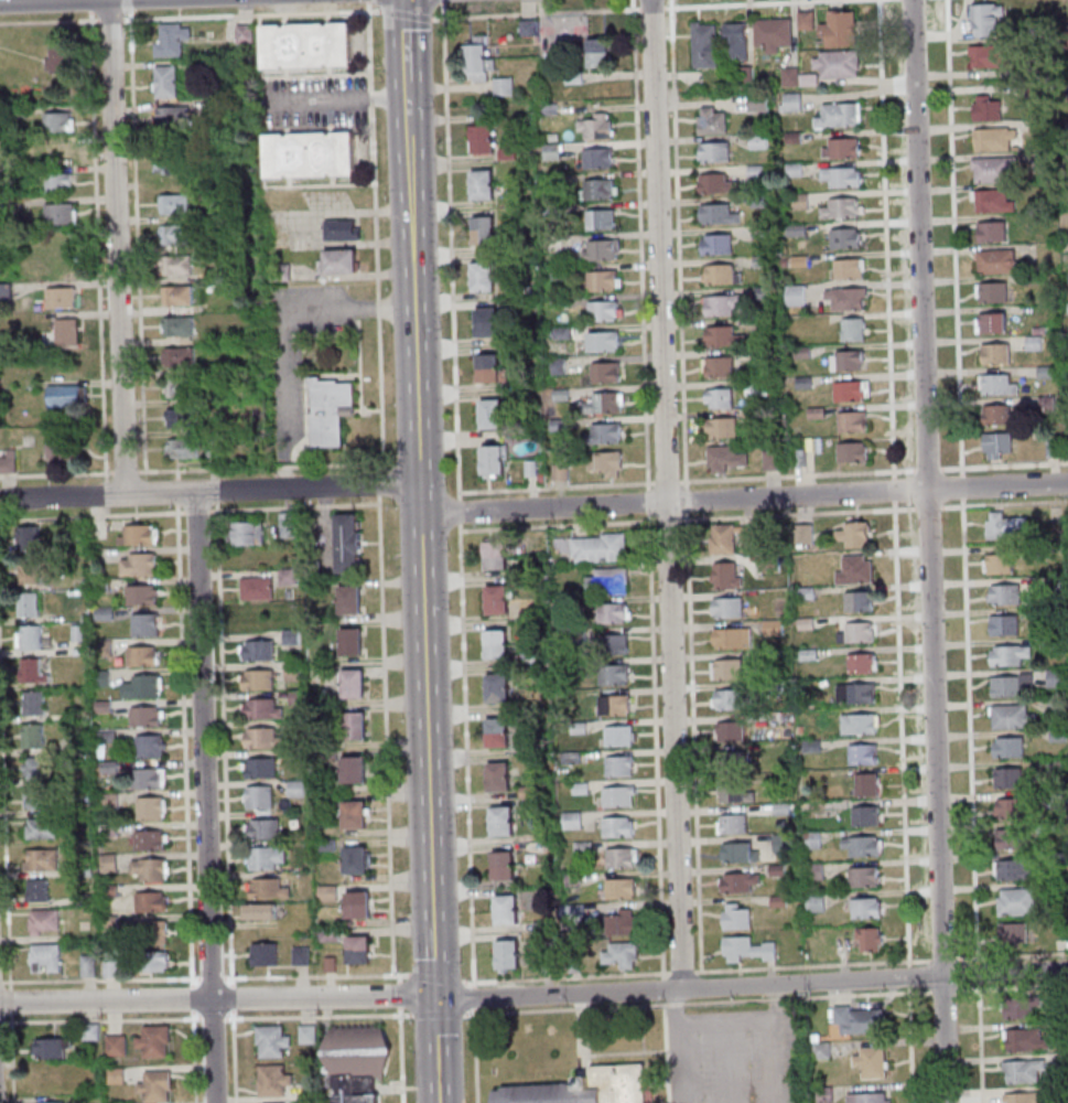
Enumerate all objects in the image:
road: (368, 0)
road: (45, 1)
road: (442, 1)
road: (744, 3)
road: (129, 4)
road: (90, 6)
road: (651, 7)
road: (538, 13)
road: (251, 14)
road: (408, 14)
building: (985, 19)
road: (61, 20)
building: (805, 20)
building: (529, 28)
building: (840, 28)
building: (244, 34)
building: (774, 34)
building: (170, 41)
building: (735, 41)
building: (704, 44)
building: (327, 45)
building: (283, 46)
road: (406, 53)
building: (598, 53)
building: (988, 55)
building: (477, 60)
building: (58, 61)
building: (837, 64)
building: (201, 67)
building: (164, 82)
building: (504, 86)
road: (334, 98)
parking lot: (312, 101)
building: (790, 101)
building: (757, 103)
building: (988, 107)
building: (217, 109)
building: (18, 113)
building: (840, 115)
building: (170, 117)
building: (711, 119)
building: (57, 122)
building: (595, 126)
building: (483, 138)
building: (995, 139)
building: (17, 144)
building: (841, 148)
building: (56, 151)
building: (552, 151)
building: (714, 151)
building: (331, 153)
building: (287, 156)
building: (597, 158)
building: (994, 170)
building: (841, 176)
building: (0, 180)
building: (57, 183)
building: (715, 183)
building: (484, 185)
building: (601, 189)
building: (992, 201)
building: (173, 204)
building: (0, 207)
building: (843, 207)
building: (58, 214)
building: (718, 214)
parking lot: (306, 218)
building: (601, 218)
road: (294, 229)
building: (484, 229)
building: (339, 231)
building: (991, 231)
building: (174, 234)
road: (375, 235)
road: (953, 236)
building: (845, 237)
road: (886, 238)
road: (137, 240)
road: (678, 244)
building: (716, 244)
road: (639, 245)
road: (97, 246)
road: (116, 247)
building: (602, 249)
road: (449, 250)
building: (999, 261)
building: (339, 263)
building: (175, 265)
building: (850, 268)
building: (278, 272)
building: (721, 274)
building: (484, 276)
building: (602, 280)
building: (4, 292)
building: (992, 292)
building: (176, 296)
building: (796, 296)
building: (60, 298)
building: (846, 299)
building: (722, 306)
road: (289, 309)
building: (602, 311)
building: (486, 322)
building: (991, 322)
building: (177, 326)
building: (853, 329)
building: (60, 333)
building: (723, 335)
building: (603, 341)
building: (996, 353)
building: (179, 357)
building: (848, 360)
building: (719, 366)
building: (490, 367)
building: (605, 372)
building: (997, 385)
building: (179, 387)
building: (852, 390)
building: (63, 396)
building: (719, 397)
building: (608, 401)
building: (327, 411)
building: (492, 414)
building: (996, 415)
building: (180, 418)
building: (853, 420)
building: (723, 427)
building: (607, 431)
building: (997, 445)
building: (181, 449)
building: (212, 449)
building: (853, 452)
building: (62, 454)
road: (282, 458)
building: (726, 458)
building: (772, 460)
building: (494, 461)
building: (606, 462)
building: (7, 463)
road: (1004, 464)
road: (259, 465)
road: (927, 468)
road: (125, 471)
building: (561, 472)
road: (55, 473)
road: (850, 473)
road: (176, 475)
road: (732, 479)
road: (667, 481)
road: (379, 482)
road: (555, 486)
road: (961, 486)
road: (894, 490)
road: (177, 492)
road: (209, 492)
road: (104, 494)
road: (665, 494)
road: (216, 497)
road: (743, 497)
road: (686, 499)
road: (648, 502)
road: (293, 506)
road: (873, 510)
road: (197, 511)
road: (459, 511)
road: (105, 512)
road: (91, 516)
road: (668, 520)
building: (287, 525)
road: (558, 525)
building: (1004, 527)
building: (247, 534)
building: (806, 534)
building: (854, 534)
building: (136, 536)
building: (26, 538)
building: (724, 538)
building: (346, 544)
building: (600, 547)
road: (928, 550)
building: (497, 555)
building: (1000, 564)
building: (137, 566)
building: (311, 569)
building: (859, 569)
building: (28, 571)
building: (727, 575)
building: (287, 577)
building: (608, 580)
building: (101, 586)
building: (255, 589)
building: (1003, 595)
building: (140, 596)
building: (498, 599)
building: (348, 600)
building: (861, 602)
building: (26, 604)
road: (422, 604)
building: (727, 607)
building: (616, 612)
building: (101, 614)
building: (83, 619)
building: (1004, 624)
building: (143, 625)
building: (772, 629)
building: (859, 632)
building: (75, 633)
building: (290, 638)
building: (732, 638)
building: (28, 639)
building: (349, 643)
building: (497, 643)
building: (614, 643)
building: (100, 649)
building: (258, 651)
building: (76, 652)
building: (1010, 655)
building: (140, 656)
building: (862, 662)
building: (727, 668)
building: (30, 672)
building: (291, 672)
building: (615, 674)
building: (100, 678)
building: (1056, 678)
building: (257, 679)
building: (352, 685)
building: (1012, 685)
building: (140, 687)
building: (497, 687)
building: (861, 689)
building: (295, 697)
building: (727, 699)
building: (32, 704)
building: (614, 705)
building: (101, 707)
building: (260, 709)
building: (1013, 716)
building: (143, 717)
building: (354, 720)
building: (859, 724)
road: (970, 730)
building: (730, 731)
building: (499, 732)
road: (900, 732)
building: (354, 733)
road: (385, 735)
building: (621, 735)
building: (31, 737)
building: (104, 737)
road: (223, 739)
building: (261, 739)
road: (693, 740)
road: (185, 742)
building: (77, 743)
road: (656, 746)
building: (148, 747)
building: (1008, 747)
building: (863, 753)
road: (465, 754)
building: (733, 761)
building: (353, 764)
building: (619, 764)
building: (107, 767)
building: (35, 768)
building: (260, 769)
building: (499, 777)
building: (1008, 777)
building: (353, 778)
building: (149, 779)
building: (866, 784)
building: (295, 789)
building: (737, 791)
building: (618, 795)
road: (203, 796)
building: (258, 797)
building: (35, 799)
building: (328, 800)
building: (107, 801)
building: (1012, 807)
building: (149, 810)
building: (354, 810)
building: (866, 815)
building: (503, 821)
building: (354, 823)
building: (732, 823)
building: (618, 826)
building: (40, 828)
building: (262, 829)
building: (107, 831)
building: (1015, 838)
building: (148, 840)
road: (4, 843)
building: (781, 843)
building: (325, 845)
building: (862, 846)
building: (736, 852)
building: (355, 855)
building: (622, 857)
building: (263, 858)
building: (40, 861)
building: (107, 863)
building: (504, 865)
building: (355, 868)
building: (1014, 869)
building: (82, 870)
building: (149, 870)
building: (865, 876)
building: (738, 881)
building: (621, 888)
building: (267, 889)
building: (35, 890)
building: (107, 890)
building: (326, 895)
building: (357, 899)
building: (83, 900)
building: (1017, 901)
building: (149, 902)
building: (866, 908)
building: (508, 909)
building: (572, 910)
building: (257, 912)
building: (357, 912)
building: (736, 915)
building: (42, 921)
building: (623, 921)
building: (108, 922)
building: (152, 932)
building: (1013, 933)
building: (328, 936)
building: (870, 939)
building: (357, 945)
building: (747, 950)
building: (619, 954)
building: (263, 955)
building: (509, 955)
road: (1014, 956)
building: (300, 957)
building: (357, 957)
building: (44, 959)
road: (943, 959)
building: (153, 962)
building: (328, 964)
road: (811, 965)
building: (86, 966)
building: (112, 968)
road: (681, 971)
road: (315, 974)
road: (603, 975)
road: (978, 975)
road: (908, 976)
road: (211, 977)
road: (438, 977)
road: (100, 979)
road: (230, 979)
road: (501, 981)
road: (1, 982)
road: (1013, 988)
road: (664, 989)
road: (942, 990)
road: (193, 996)
road: (231, 996)
road: (533, 996)
traffic signals: (434, 998)
road: (473, 998)
road: (9, 1000)
road: (662, 1003)
road: (695, 1003)
building: (1020, 1006)
street lamp: (227, 1014)
road: (436, 1014)
road: (317, 1016)
road: (213, 1018)
street lamp: (4, 1019)
road: (100, 1019)
building: (861, 1019)
building: (88, 1032)
building: (305, 1035)
road: (400, 1038)
building: (1026, 1039)
building: (153, 1042)
building: (270, 1042)
road: (910, 1045)
road: (980, 1045)
building: (115, 1047)
building: (51, 1048)
building: (822, 1050)
parking lot: (736, 1051)
road: (629, 1052)
building: (356, 1053)
road: (667, 1053)
road: (194, 1056)
road: (233, 1056)
road: (475, 1056)
road: (12, 1058)
building: (872, 1061)
building: (1024, 1071)
building: (114, 1075)
building: (46, 1080)
building: (271, 1081)
building: (154, 1088)
building: (585, 1089)
building: (355, 1091)
building: (309, 1093)
building: (870, 1097)
building: (1025, 1097)
building: (50, 1102)
building: (277, 1102)

